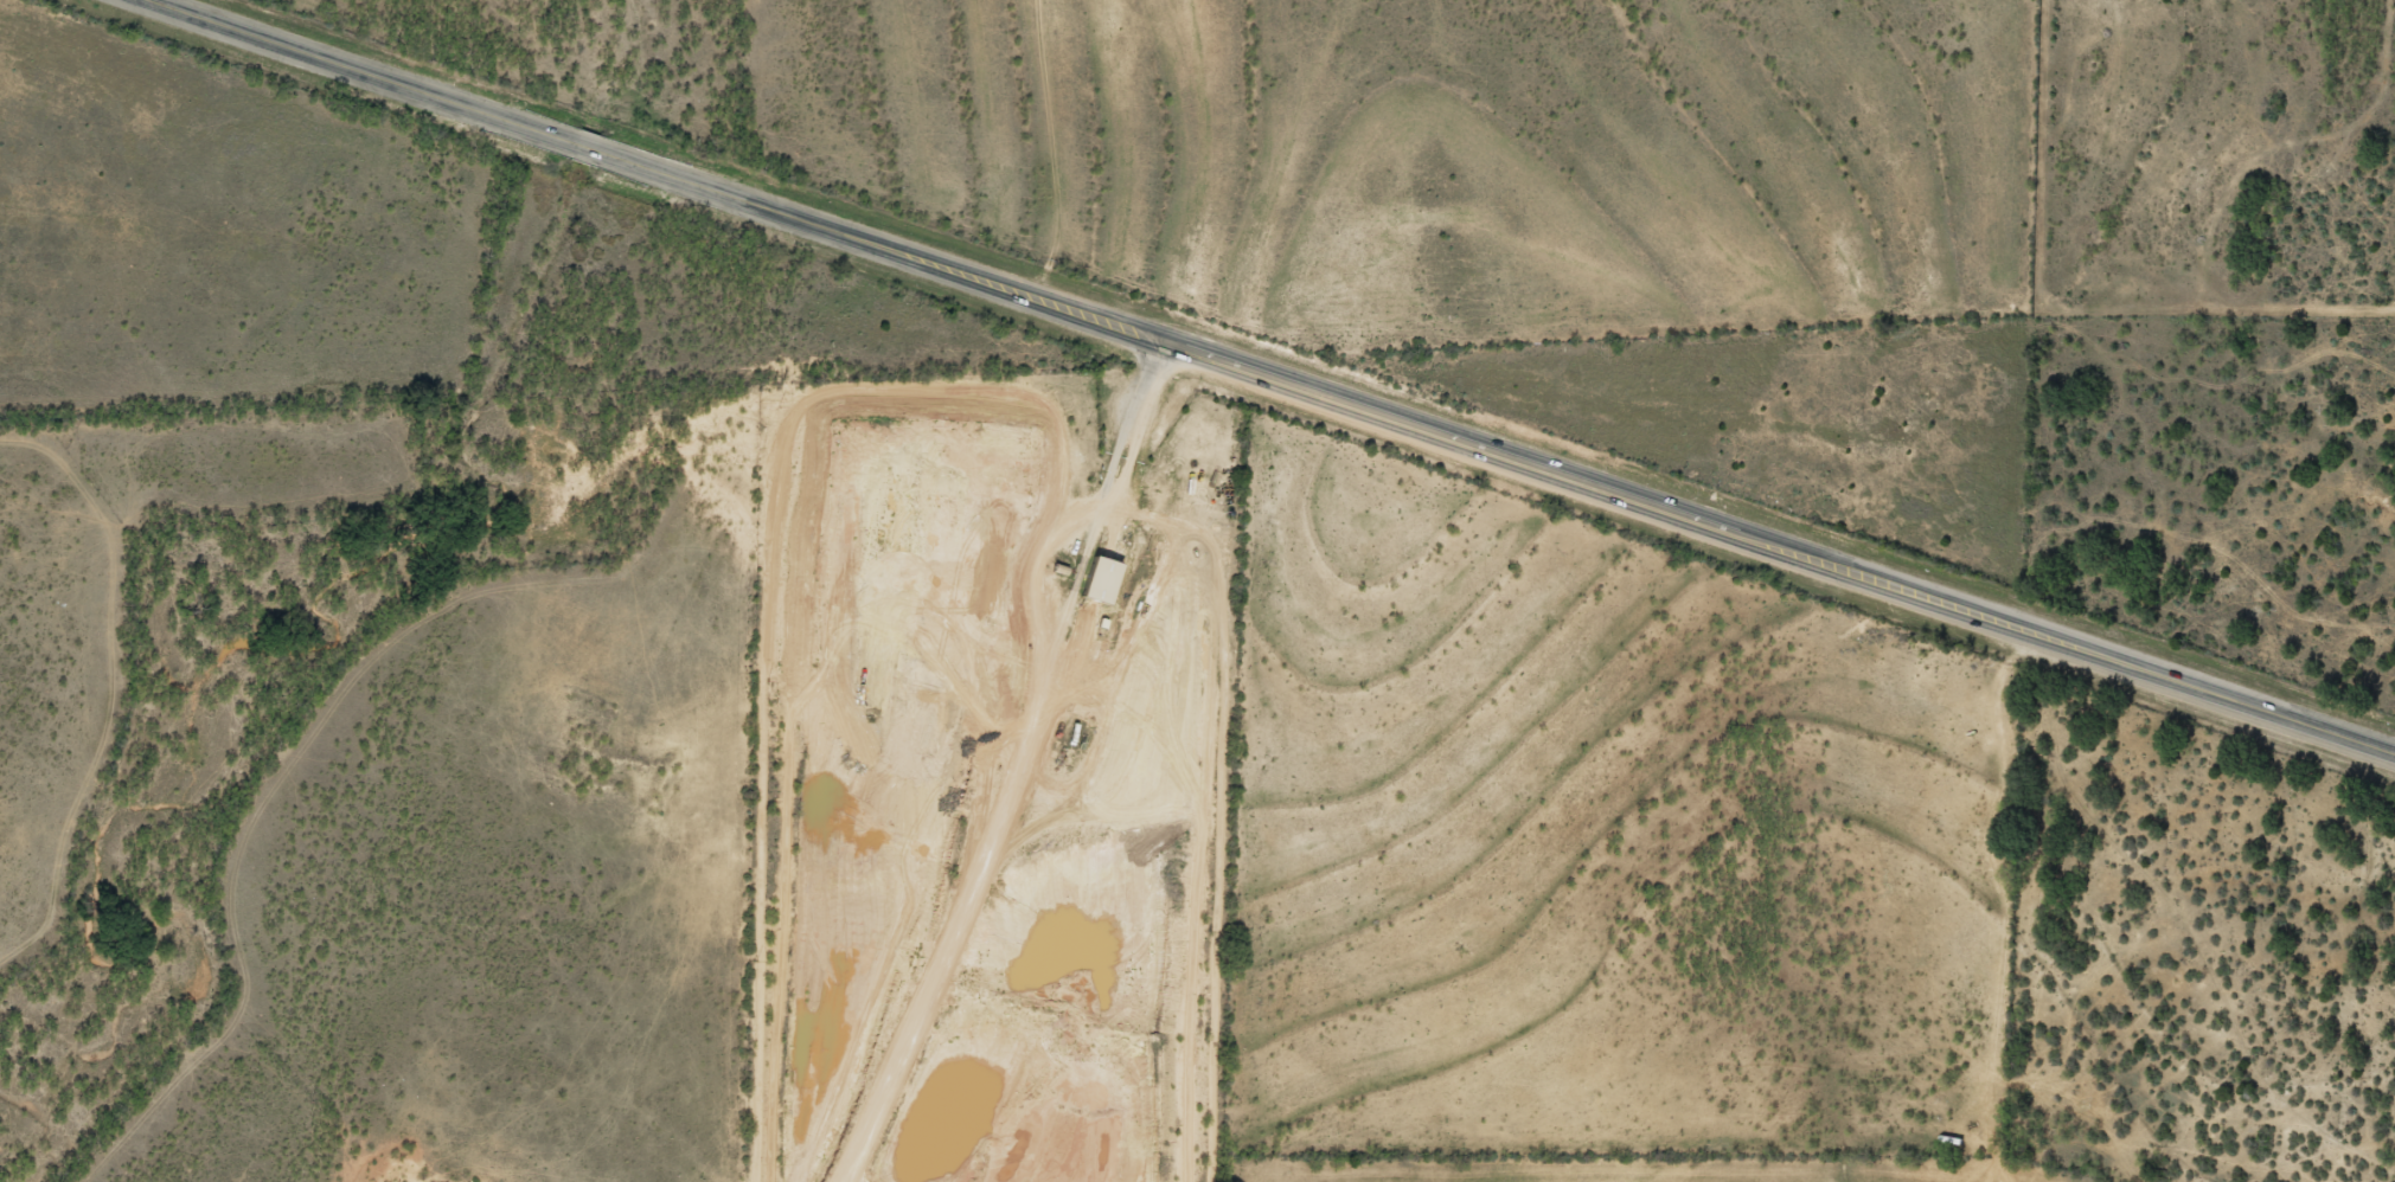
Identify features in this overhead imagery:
road: (1266, 383)
road: (1017, 775)

